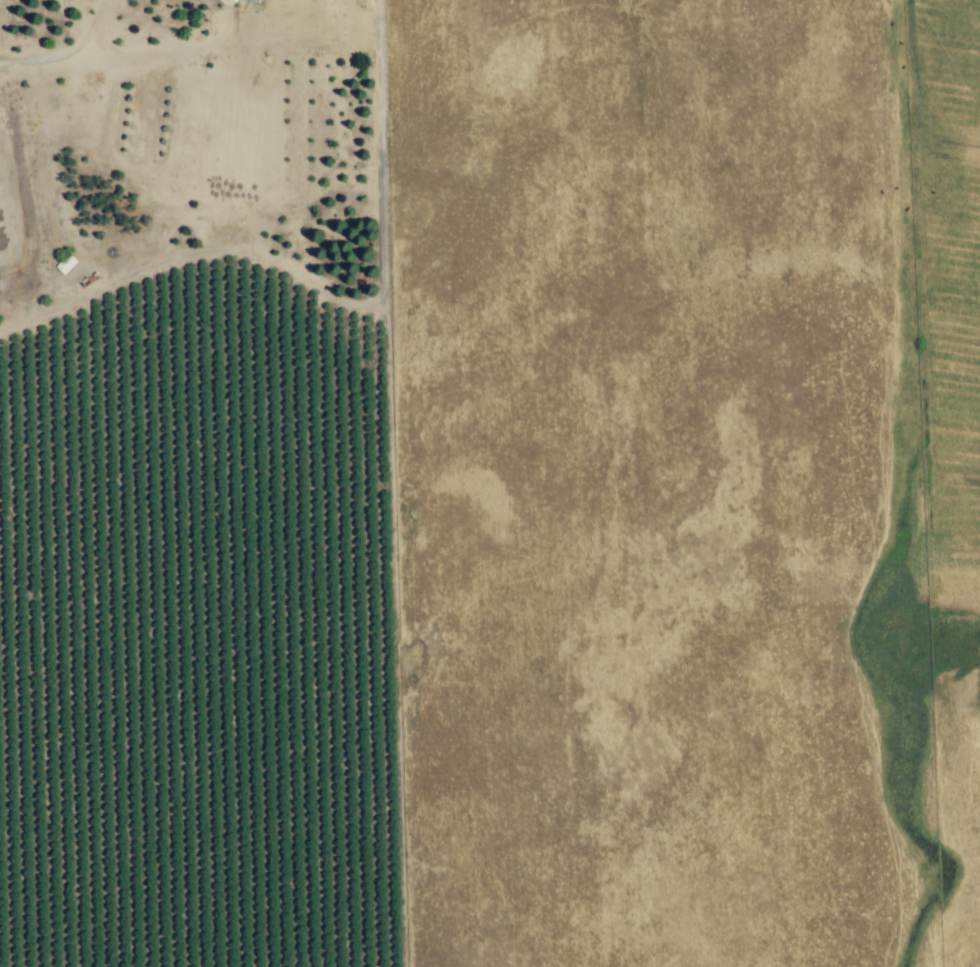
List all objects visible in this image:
building: (253, 0)
road: (100, 28)
road: (124, 54)
road: (334, 322)
building: (88, 363)
crop: (530, 527)

